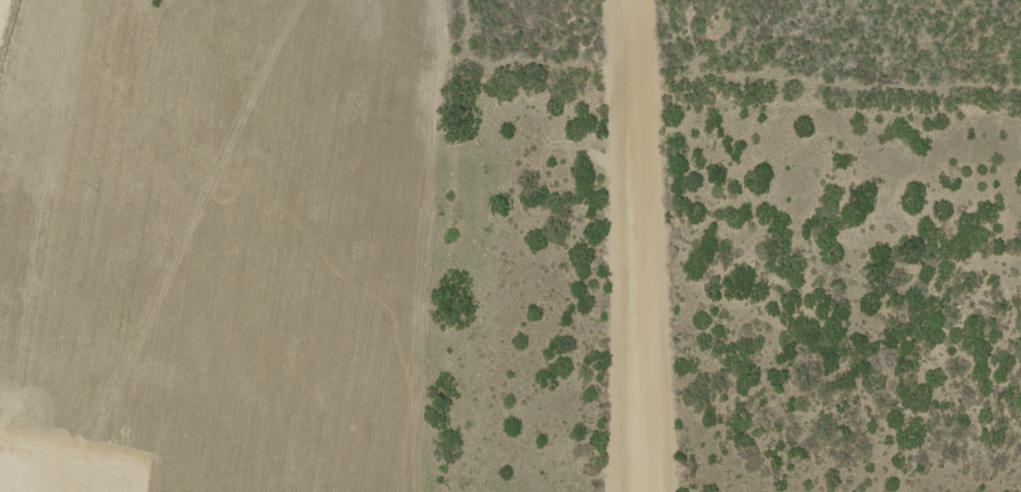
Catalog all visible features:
road: (565, 124)

